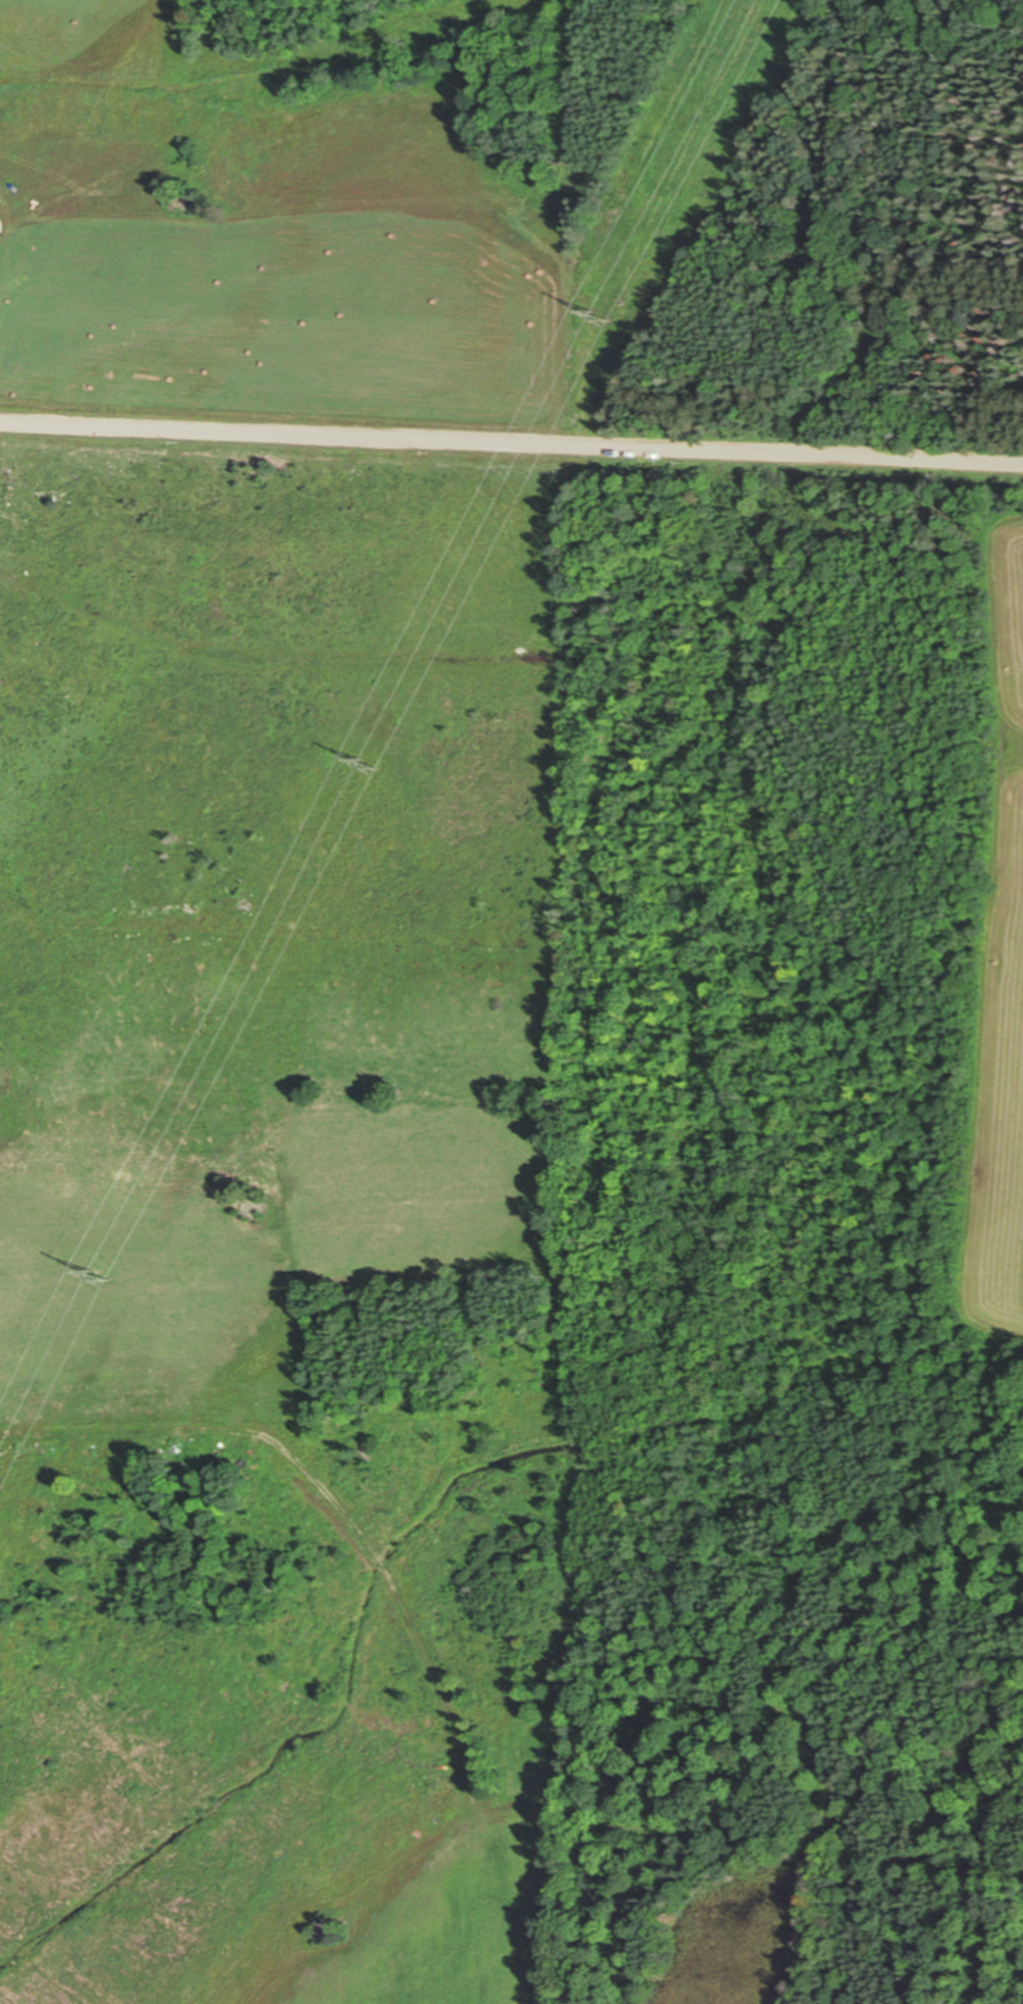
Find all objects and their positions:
road: (511, 439)
crop: (275, 1218)

